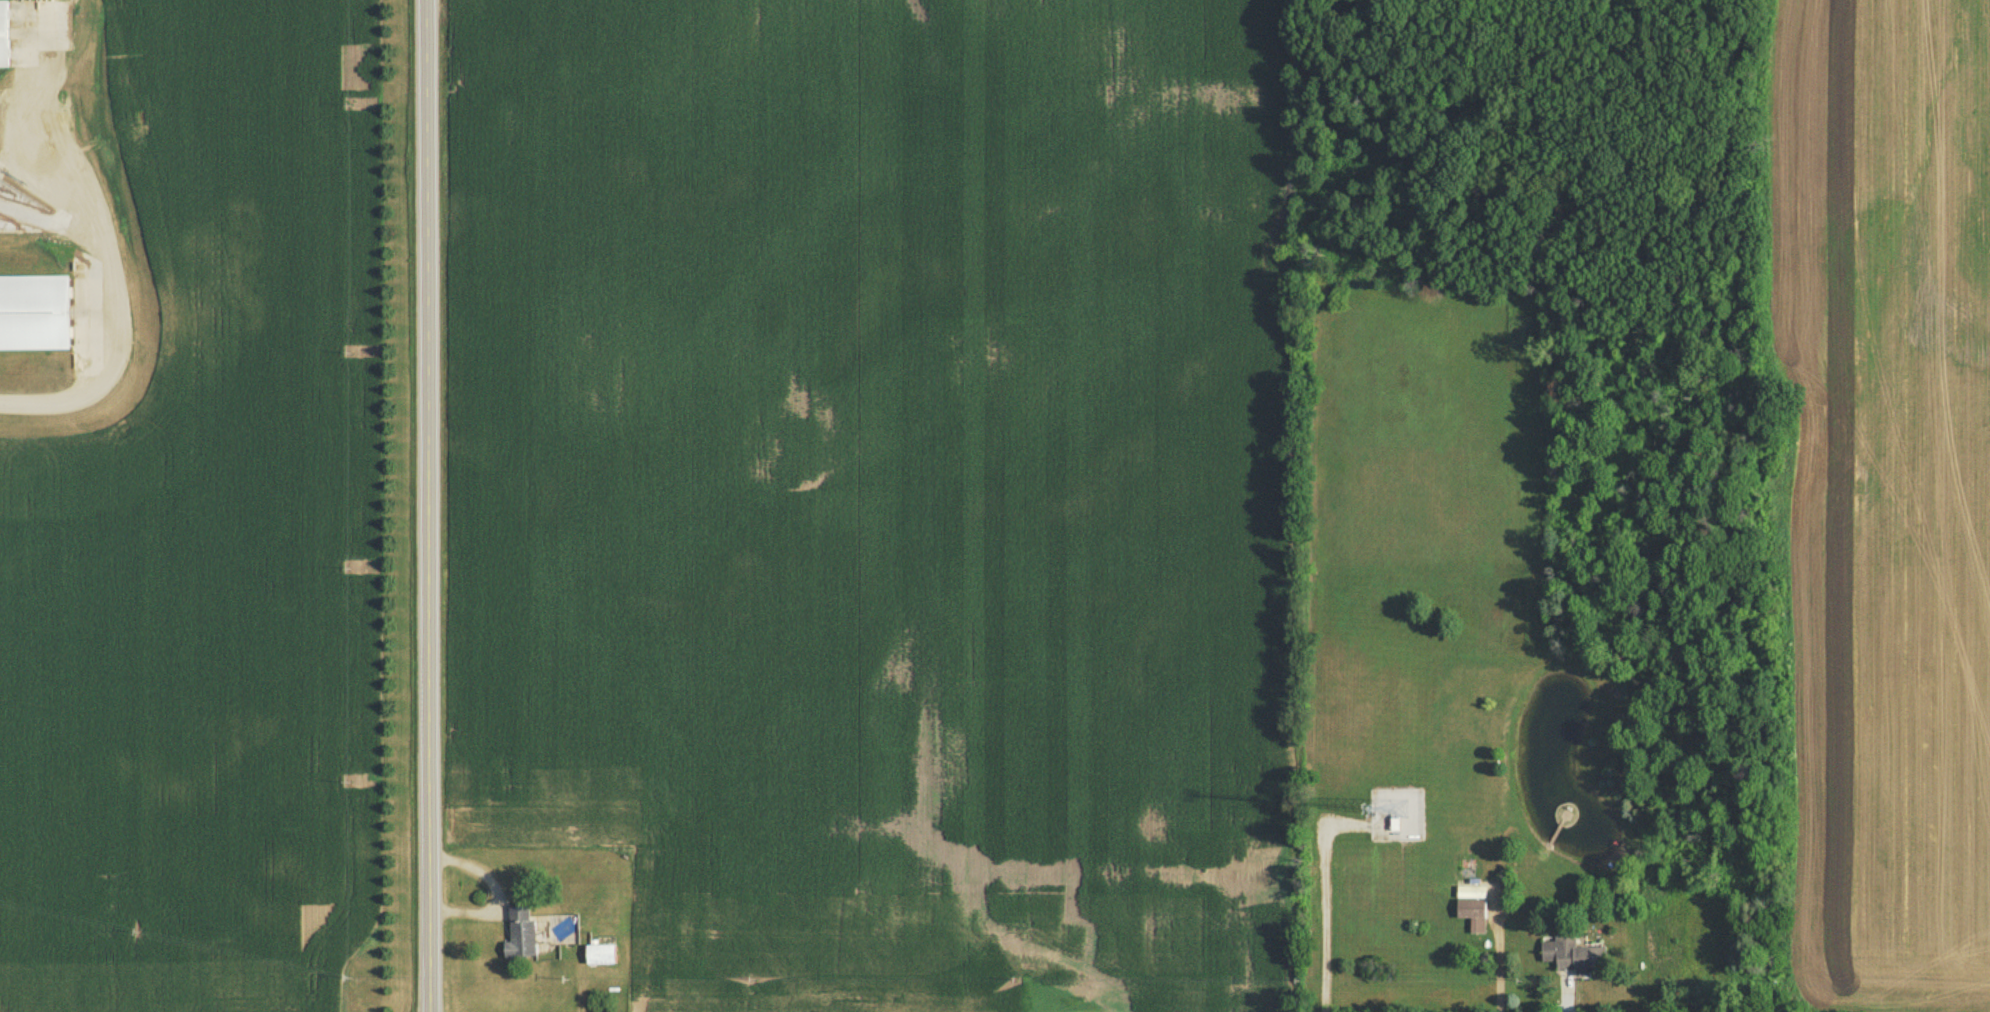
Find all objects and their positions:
building: (4, 38)
road: (112, 285)
building: (35, 316)
road: (430, 506)
building: (1474, 917)
building: (522, 936)
building: (602, 957)
building: (1574, 959)

